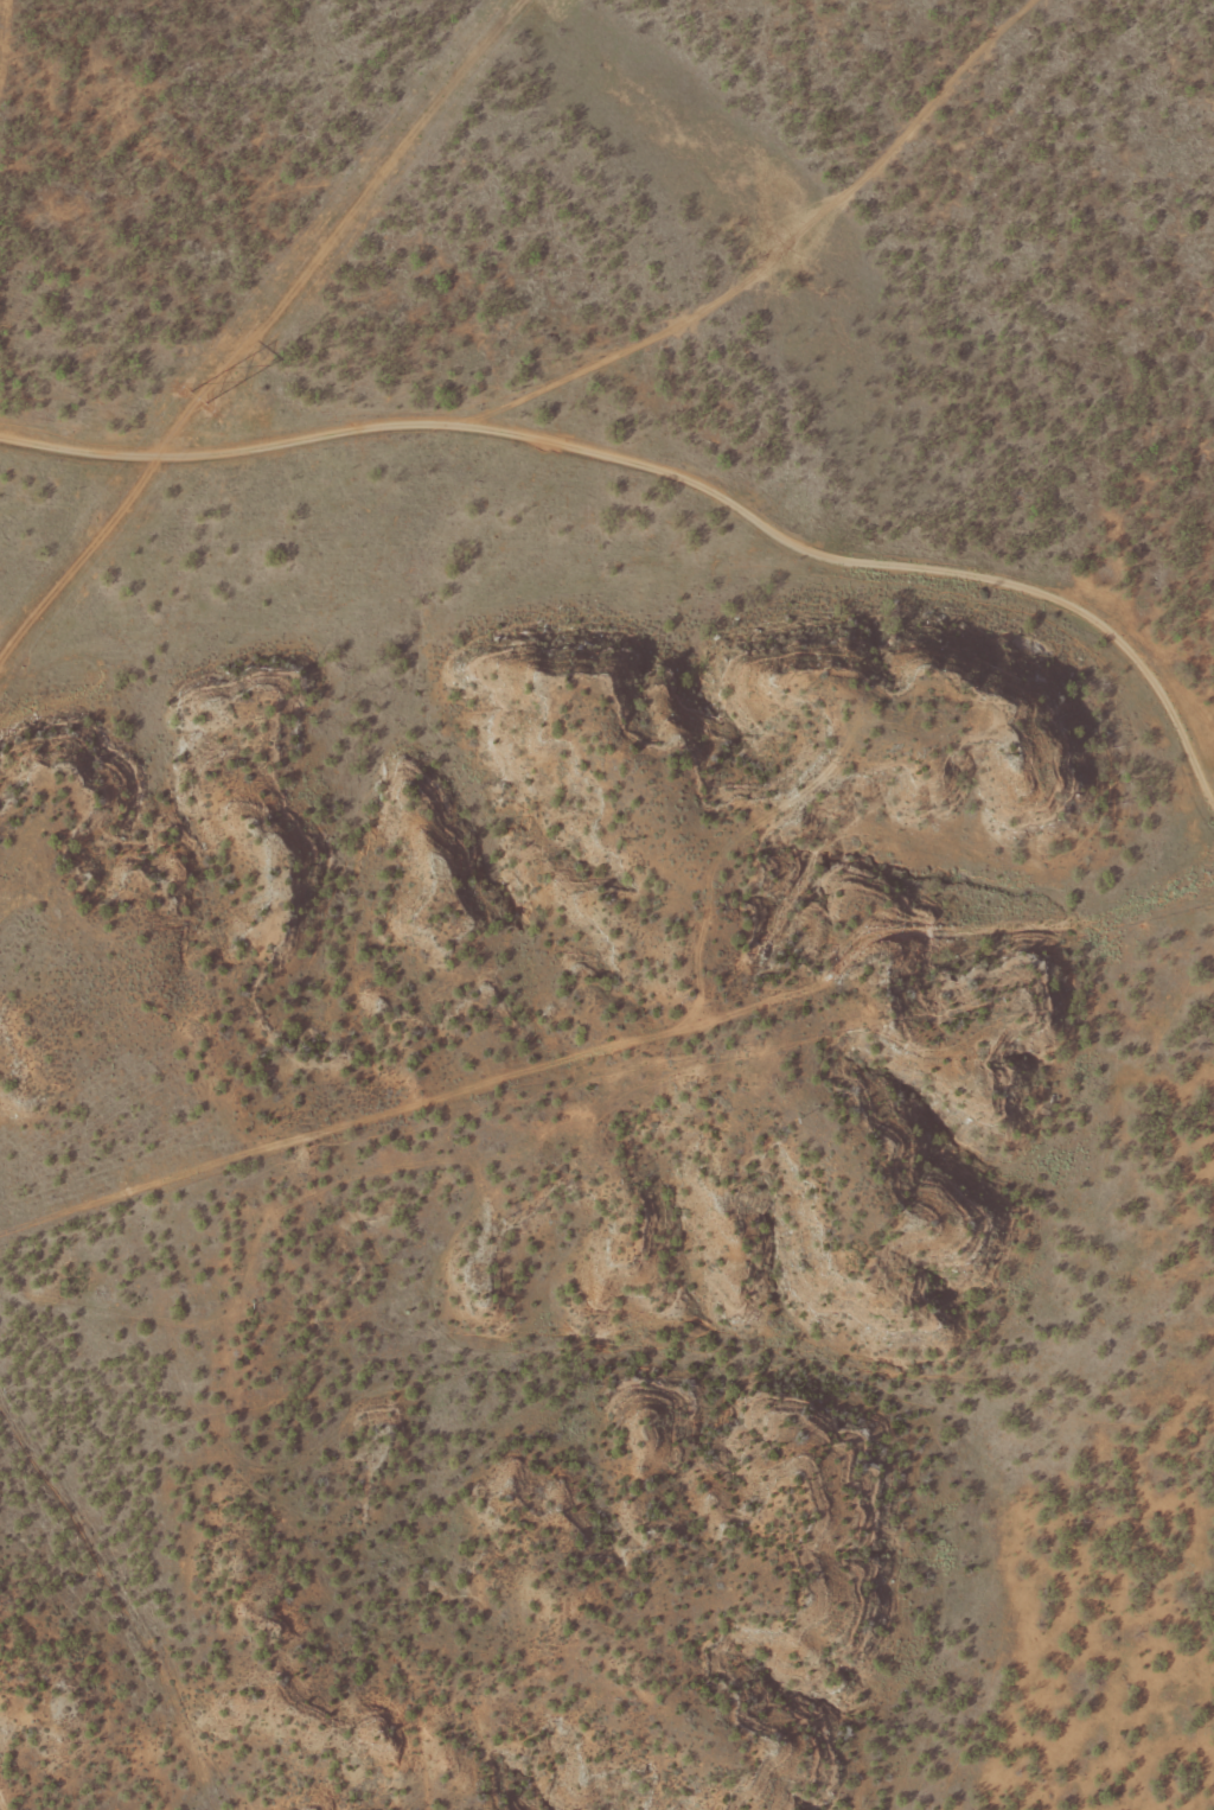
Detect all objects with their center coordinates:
road: (689, 470)

